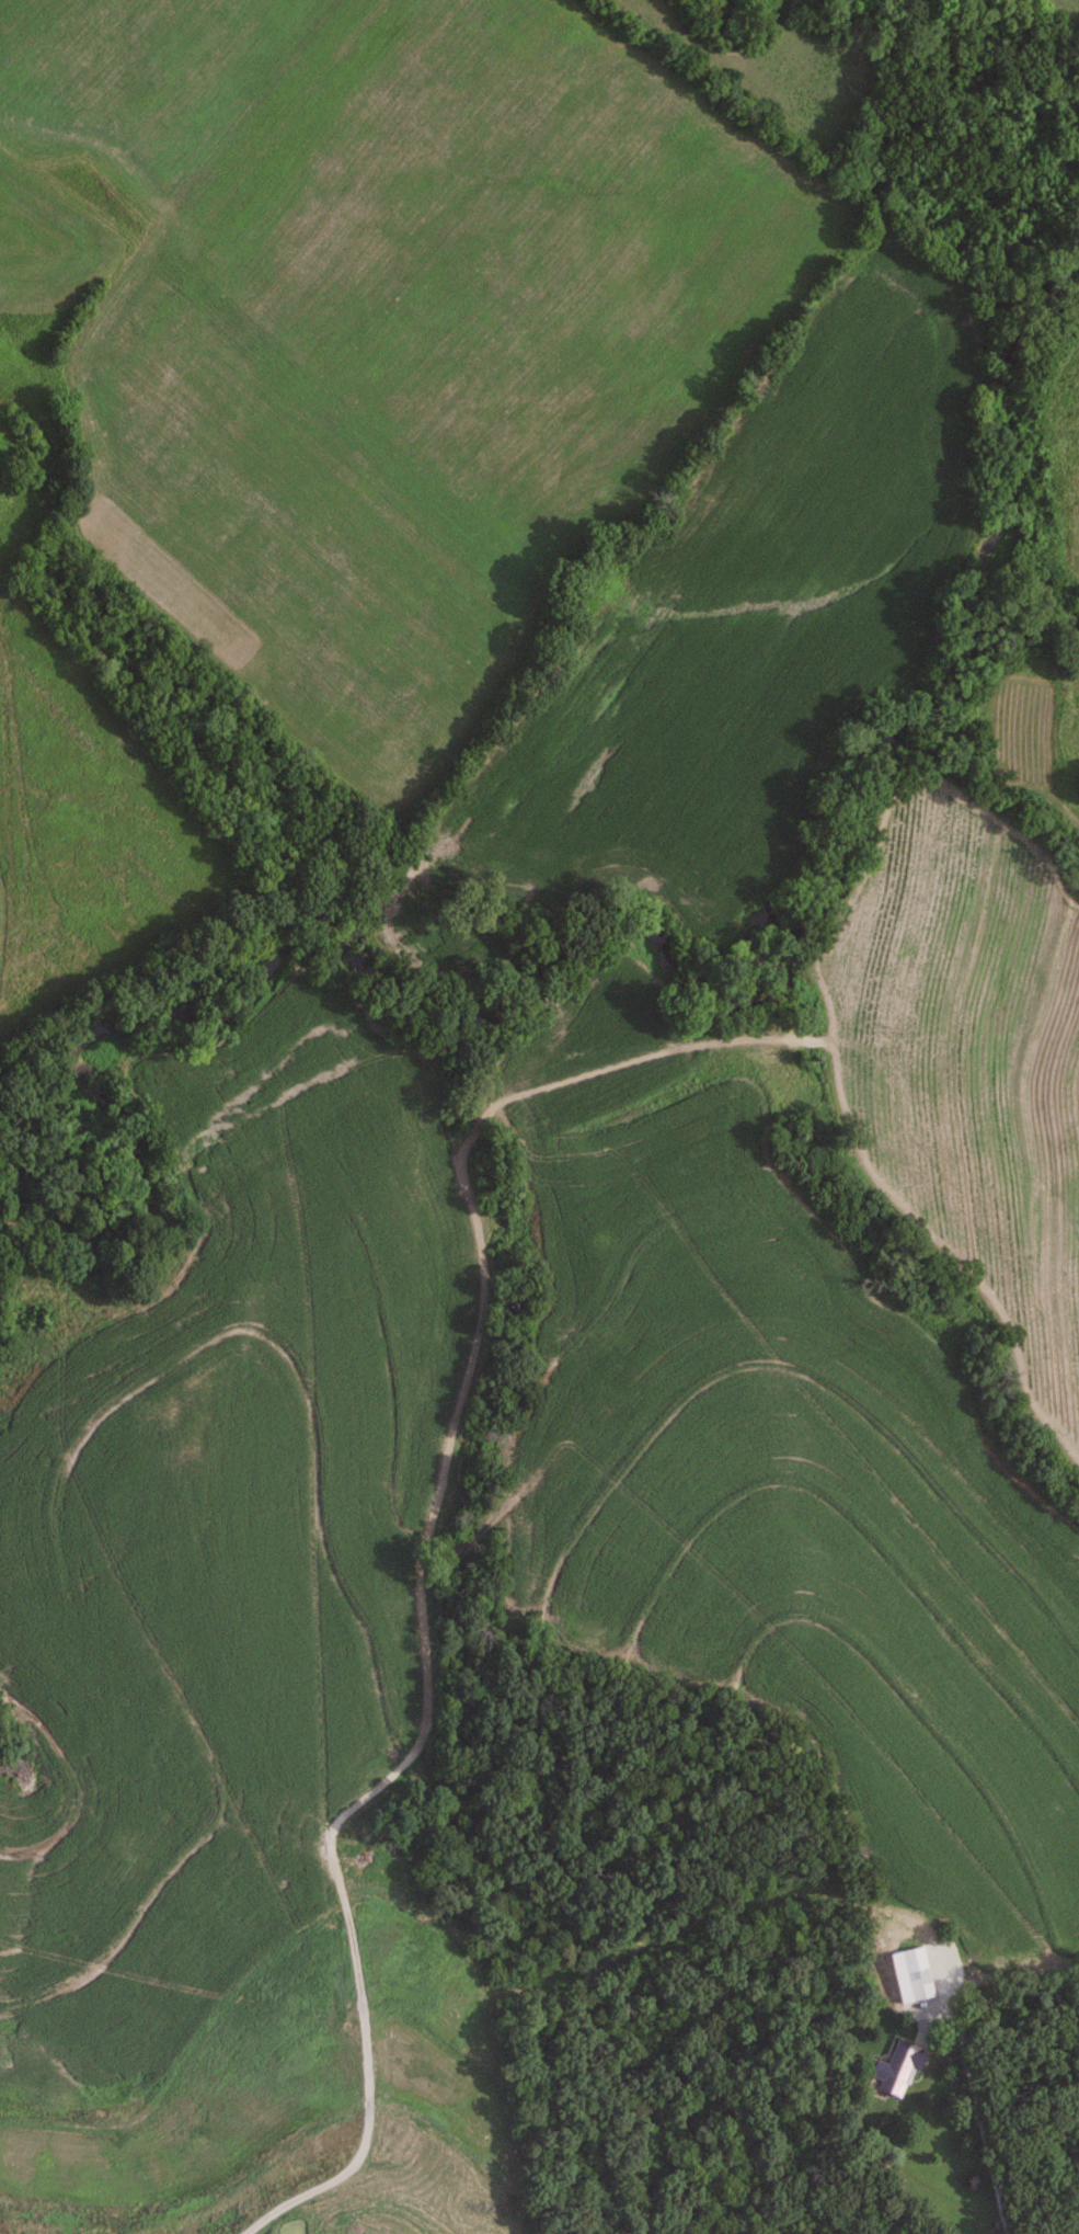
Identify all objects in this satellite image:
river: (658, 942)
building: (914, 1974)
building: (895, 2070)
road: (979, 2122)

